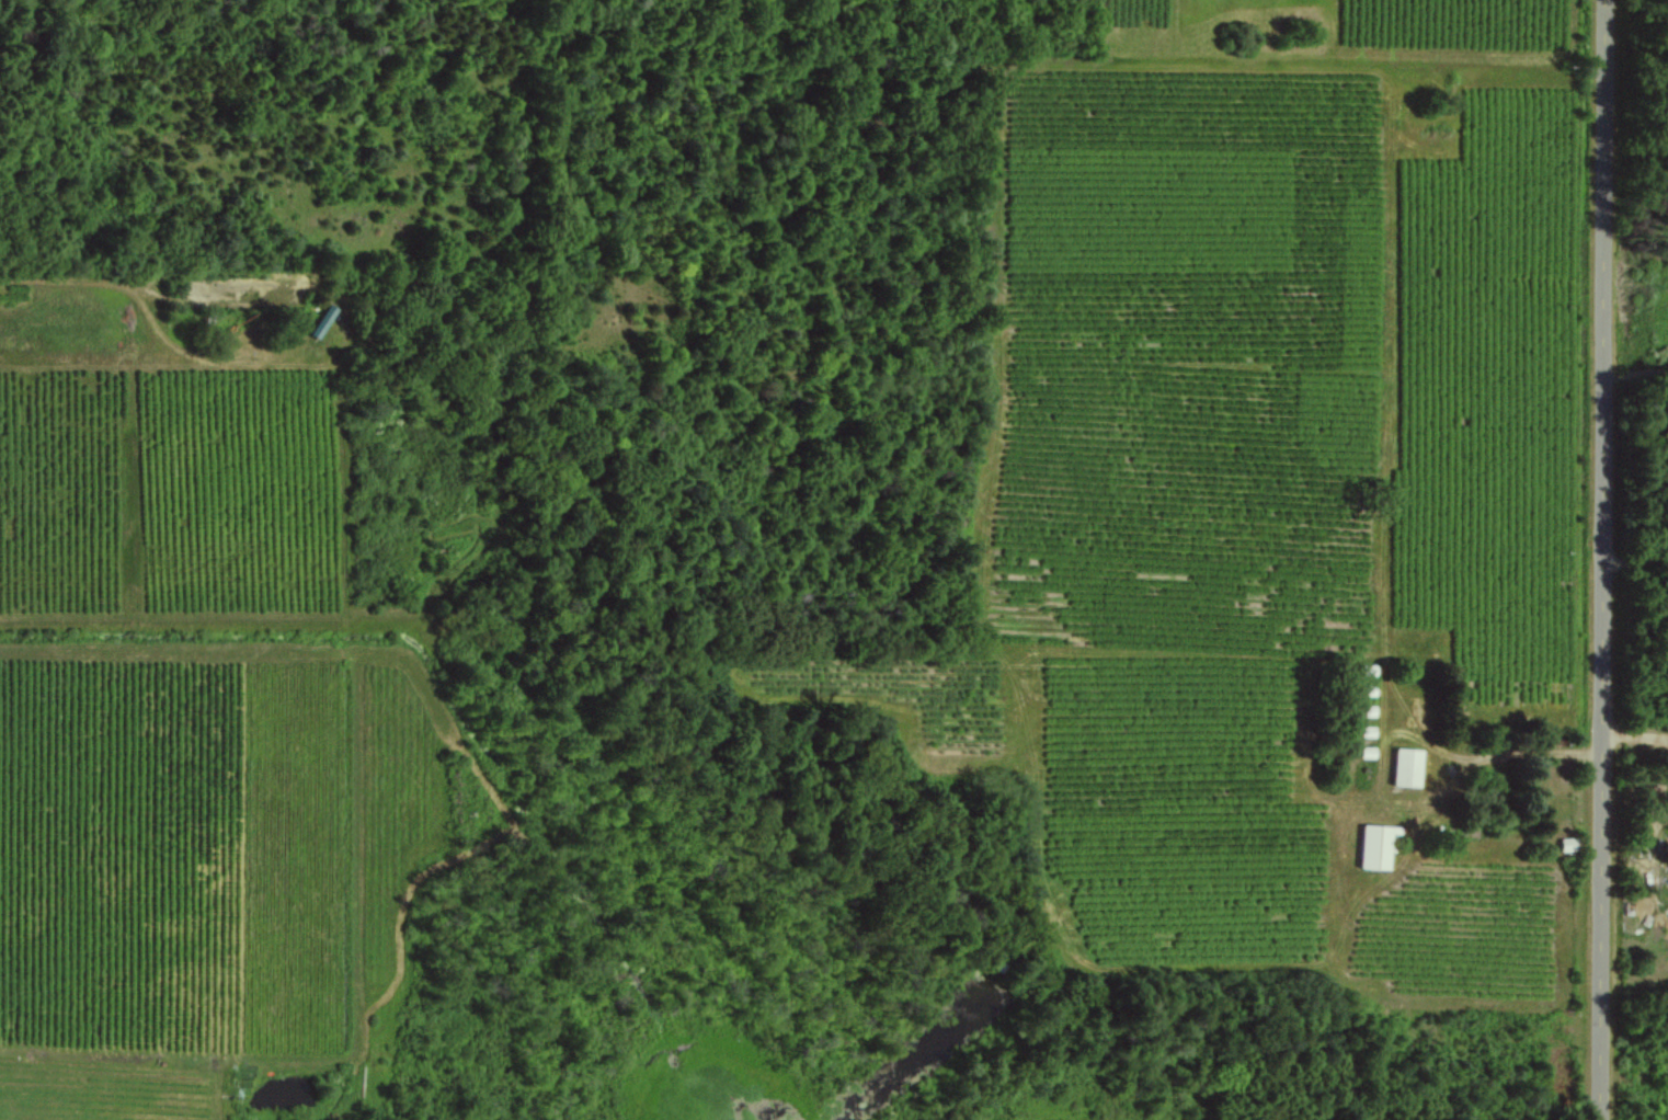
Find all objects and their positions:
road: (1601, 559)
building: (1406, 766)
building: (1568, 843)
building: (1379, 845)

